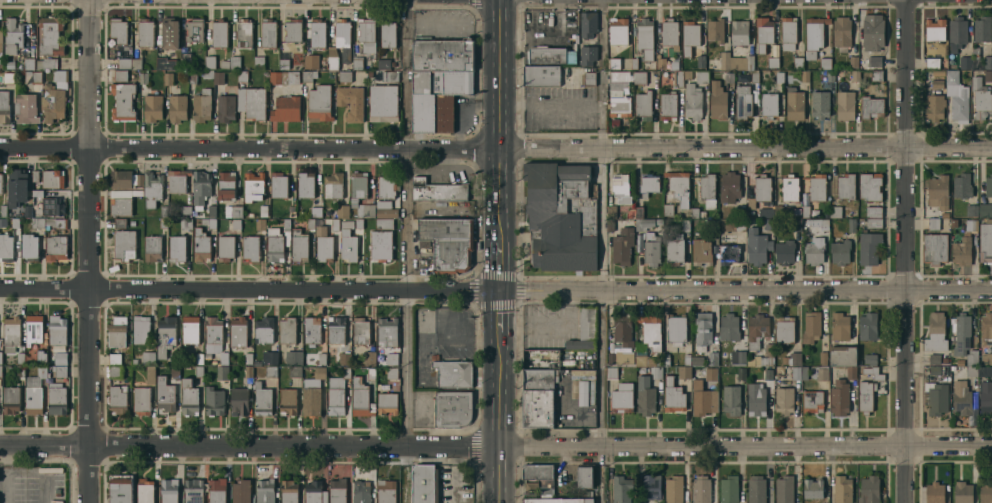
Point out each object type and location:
building: (570, 16)
building: (588, 23)
building: (935, 28)
building: (118, 29)
building: (194, 29)
building: (292, 29)
building: (715, 29)
building: (982, 29)
building: (618, 31)
building: (669, 31)
building: (145, 32)
building: (219, 32)
building: (244, 32)
building: (268, 32)
building: (739, 32)
building: (788, 32)
building: (873, 32)
building: (317, 33)
building: (366, 33)
building: (763, 33)
building: (842, 33)
building: (957, 33)
building: (170, 34)
building: (388, 34)
building: (50, 35)
building: (814, 35)
building: (13, 36)
building: (690, 36)
building: (645, 37)
building: (109, 40)
building: (0, 43)
building: (340, 43)
building: (443, 54)
building: (548, 54)
building: (587, 54)
building: (186, 59)
building: (701, 60)
building: (210, 61)
building: (235, 61)
building: (735, 61)
building: (853, 61)
building: (874, 61)
building: (259, 62)
building: (284, 62)
building: (309, 62)
building: (358, 62)
building: (772, 62)
building: (798, 62)
building: (934, 62)
building: (966, 62)
building: (28, 63)
building: (51, 63)
building: (124, 63)
building: (136, 63)
building: (165, 63)
building: (225, 63)
building: (384, 63)
building: (615, 63)
building: (634, 63)
building: (825, 63)
building: (986, 63)
building: (10, 64)
building: (677, 65)
building: (207, 74)
building: (687, 74)
building: (120, 75)
building: (309, 75)
building: (541, 75)
building: (805, 75)
building: (827, 75)
building: (855, 75)
building: (876, 75)
building: (988, 75)
building: (33, 76)
building: (242, 76)
building: (345, 76)
building: (389, 76)
building: (701, 76)
building: (728, 76)
building: (779, 76)
building: (8, 77)
building: (144, 77)
building: (218, 77)
building: (279, 77)
building: (640, 77)
building: (754, 77)
building: (168, 78)
building: (192, 78)
building: (588, 78)
building: (655, 78)
building: (679, 78)
building: (788, 78)
building: (938, 82)
building: (618, 94)
building: (54, 97)
building: (958, 97)
building: (437, 98)
building: (981, 98)
building: (718, 100)
building: (123, 101)
building: (693, 101)
building: (252, 102)
building: (351, 102)
building: (383, 102)
building: (743, 102)
building: (319, 103)
building: (794, 103)
building: (820, 104)
building: (202, 105)
building: (643, 105)
building: (668, 105)
building: (769, 105)
building: (845, 105)
building: (4, 106)
building: (152, 107)
building: (177, 107)
building: (225, 107)
building: (872, 107)
building: (935, 107)
building: (26, 108)
building: (286, 108)
road: (496, 120)
road: (496, 149)
building: (555, 171)
building: (35, 175)
building: (52, 178)
building: (121, 179)
building: (139, 179)
building: (177, 179)
building: (678, 182)
building: (0, 183)
building: (305, 183)
building: (648, 183)
building: (278, 184)
building: (226, 185)
building: (333, 185)
building: (962, 185)
building: (989, 185)
building: (17, 186)
building: (201, 186)
building: (253, 186)
building: (386, 186)
building: (729, 186)
building: (846, 186)
building: (870, 186)
building: (790, 187)
building: (817, 187)
building: (152, 188)
building: (621, 188)
building: (939, 188)
building: (708, 189)
building: (438, 190)
building: (760, 190)
building: (38, 192)
building: (137, 192)
building: (360, 193)
building: (120, 202)
building: (52, 205)
building: (291, 208)
building: (668, 209)
building: (972, 209)
building: (985, 209)
building: (3, 210)
building: (27, 210)
building: (185, 210)
building: (211, 210)
building: (233, 210)
building: (263, 210)
building: (316, 210)
building: (342, 210)
building: (611, 210)
building: (783, 210)
building: (10, 211)
building: (164, 211)
building: (739, 211)
building: (805, 211)
building: (837, 211)
building: (873, 211)
building: (387, 212)
building: (630, 212)
building: (639, 212)
building: (695, 212)
building: (658, 221)
building: (15, 222)
building: (37, 222)
building: (57, 222)
building: (119, 222)
building: (132, 222)
building: (874, 222)
building: (163, 223)
building: (185, 223)
building: (209, 223)
building: (234, 223)
building: (260, 223)
building: (310, 223)
building: (359, 223)
building: (384, 223)
road: (602, 223)
building: (644, 223)
building: (769, 223)
building: (824, 223)
building: (934, 223)
building: (286, 224)
building: (335, 224)
building: (562, 224)
building: (796, 224)
building: (610, 225)
building: (686, 225)
building: (852, 225)
building: (972, 225)
building: (781, 226)
building: (348, 241)
building: (986, 241)
building: (448, 243)
building: (124, 244)
building: (274, 244)
building: (324, 244)
building: (381, 244)
building: (201, 245)
building: (299, 245)
building: (622, 245)
building: (757, 245)
building: (30, 246)
building: (6, 247)
building: (56, 247)
building: (251, 247)
building: (868, 247)
building: (152, 248)
building: (177, 248)
building: (226, 248)
building: (935, 248)
building: (675, 249)
road: (86, 251)
road: (407, 251)
building: (651, 251)
building: (785, 251)
building: (814, 251)
building: (840, 251)
road: (904, 251)
building: (962, 251)
building: (701, 252)
building: (729, 254)
road: (498, 265)
road: (496, 290)
traffic signals: (498, 290)
road: (498, 314)
building: (811, 326)
building: (840, 326)
building: (868, 326)
building: (728, 327)
building: (34, 328)
building: (141, 328)
building: (676, 328)
building: (702, 328)
building: (986, 328)
building: (57, 329)
building: (190, 329)
building: (265, 329)
building: (311, 329)
building: (336, 329)
building: (361, 329)
building: (622, 329)
building: (757, 329)
building: (784, 329)
building: (287, 330)
building: (584, 330)
building: (651, 330)
building: (117, 331)
building: (238, 331)
building: (387, 332)
building: (936, 332)
building: (962, 332)
building: (11, 333)
building: (213, 334)
building: (165, 335)
building: (767, 354)
building: (842, 355)
building: (0, 356)
building: (293, 356)
building: (434, 356)
building: (531, 356)
building: (738, 356)
building: (20, 357)
building: (42, 357)
building: (60, 357)
building: (148, 357)
building: (271, 357)
building: (620, 357)
building: (972, 357)
building: (199, 358)
building: (224, 358)
building: (248, 358)
building: (322, 358)
building: (345, 358)
building: (369, 358)
building: (391, 358)
building: (713, 358)
building: (791, 358)
building: (822, 358)
building: (870, 358)
building: (935, 358)
building: (114, 359)
building: (666, 359)
building: (945, 359)
building: (987, 359)
building: (646, 360)
building: (686, 360)
building: (961, 362)
building: (0, 370)
building: (20, 370)
building: (41, 370)
building: (59, 370)
building: (199, 370)
building: (972, 370)
building: (985, 370)
building: (115, 371)
building: (248, 371)
building: (271, 371)
building: (294, 371)
building: (174, 372)
building: (222, 372)
building: (320, 372)
building: (346, 372)
building: (371, 372)
building: (391, 372)
building: (657, 372)
building: (684, 372)
building: (804, 372)
building: (822, 372)
building: (851, 372)
building: (873, 372)
building: (453, 373)
building: (612, 373)
building: (711, 373)
building: (741, 373)
building: (796, 373)
building: (150, 374)
building: (583, 374)
building: (768, 374)
building: (539, 379)
building: (55, 384)
building: (937, 390)
building: (583, 392)
building: (165, 394)
building: (866, 395)
building: (645, 396)
building: (673, 396)
building: (839, 396)
building: (189, 397)
building: (359, 397)
building: (622, 397)
building: (962, 397)
building: (985, 397)
building: (700, 398)
building: (756, 398)
building: (10, 399)
building: (117, 399)
building: (262, 399)
building: (731, 399)
building: (33, 400)
building: (56, 400)
building: (141, 400)
building: (239, 400)
building: (784, 400)
building: (214, 401)
building: (288, 401)
building: (311, 401)
building: (335, 401)
building: (813, 401)
building: (387, 404)
building: (453, 408)
building: (538, 408)
road: (498, 421)
road: (249, 446)
road: (745, 447)
road: (5, 473)
building: (584, 474)
road: (602, 475)
building: (539, 476)
building: (425, 483)
building: (651, 486)
building: (121, 488)
building: (531, 488)
building: (813, 488)
building: (842, 488)
building: (621, 489)
building: (673, 489)
building: (701, 489)
building: (729, 489)
building: (756, 489)
building: (784, 489)
building: (144, 490)
building: (169, 490)
building: (217, 490)
building: (869, 490)
building: (193, 491)
building: (241, 491)
building: (264, 491)
building: (288, 491)
building: (337, 491)
building: (385, 491)
building: (985, 491)
building: (314, 492)
building: (360, 492)
building: (935, 492)
building: (963, 492)
road: (44, 493)
building: (586, 494)
building: (557, 500)

